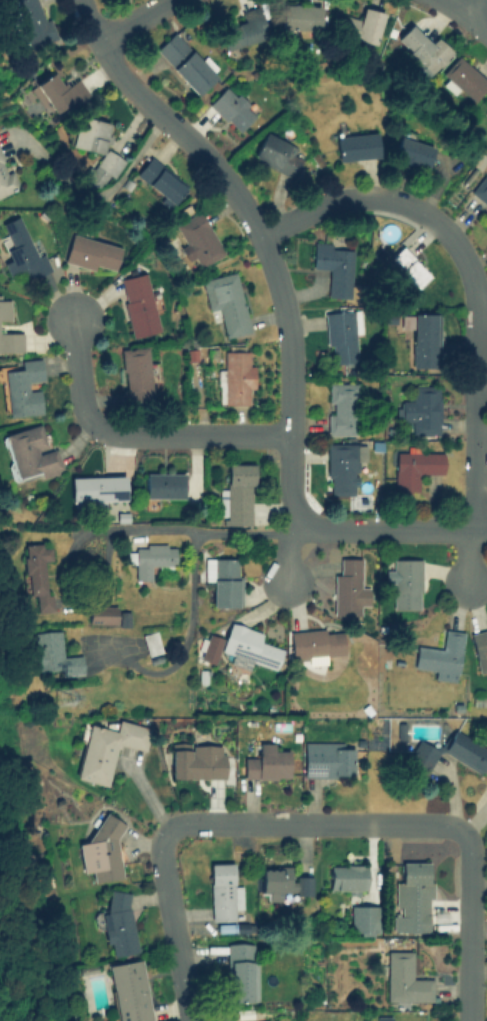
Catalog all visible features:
road: (453, 5)
road: (468, 5)
building: (299, 16)
road: (476, 18)
road: (141, 19)
building: (31, 21)
building: (359, 25)
building: (242, 29)
building: (421, 49)
building: (186, 62)
building: (464, 78)
building: (56, 92)
building: (231, 107)
building: (486, 108)
building: (355, 145)
building: (96, 148)
building: (412, 151)
building: (277, 154)
building: (5, 177)
building: (159, 179)
building: (480, 189)
road: (107, 190)
building: (485, 225)
road: (262, 233)
building: (197, 239)
building: (20, 249)
building: (91, 253)
building: (334, 267)
building: (406, 268)
road: (470, 277)
building: (225, 302)
building: (137, 304)
building: (4, 307)
building: (341, 334)
building: (424, 339)
building: (10, 341)
building: (136, 371)
building: (235, 377)
building: (22, 388)
building: (341, 407)
building: (420, 408)
road: (133, 436)
building: (30, 452)
building: (342, 466)
building: (414, 466)
building: (162, 484)
building: (96, 488)
building: (237, 490)
road: (288, 529)
road: (287, 549)
road: (467, 555)
building: (150, 558)
building: (36, 573)
building: (223, 579)
building: (405, 582)
building: (346, 585)
road: (80, 601)
building: (101, 613)
building: (123, 619)
building: (150, 642)
building: (315, 643)
road: (183, 646)
building: (479, 646)
building: (241, 647)
building: (51, 653)
building: (441, 655)
power tower: (57, 701)
building: (105, 747)
building: (465, 750)
building: (421, 756)
building: (327, 758)
building: (197, 760)
building: (266, 762)
road: (313, 824)
building: (101, 851)
building: (347, 877)
building: (283, 881)
building: (222, 892)
building: (411, 898)
building: (362, 919)
building: (117, 923)
road: (469, 926)
road: (172, 927)
building: (240, 971)
building: (404, 979)
building: (129, 990)
building: (265, 1020)

